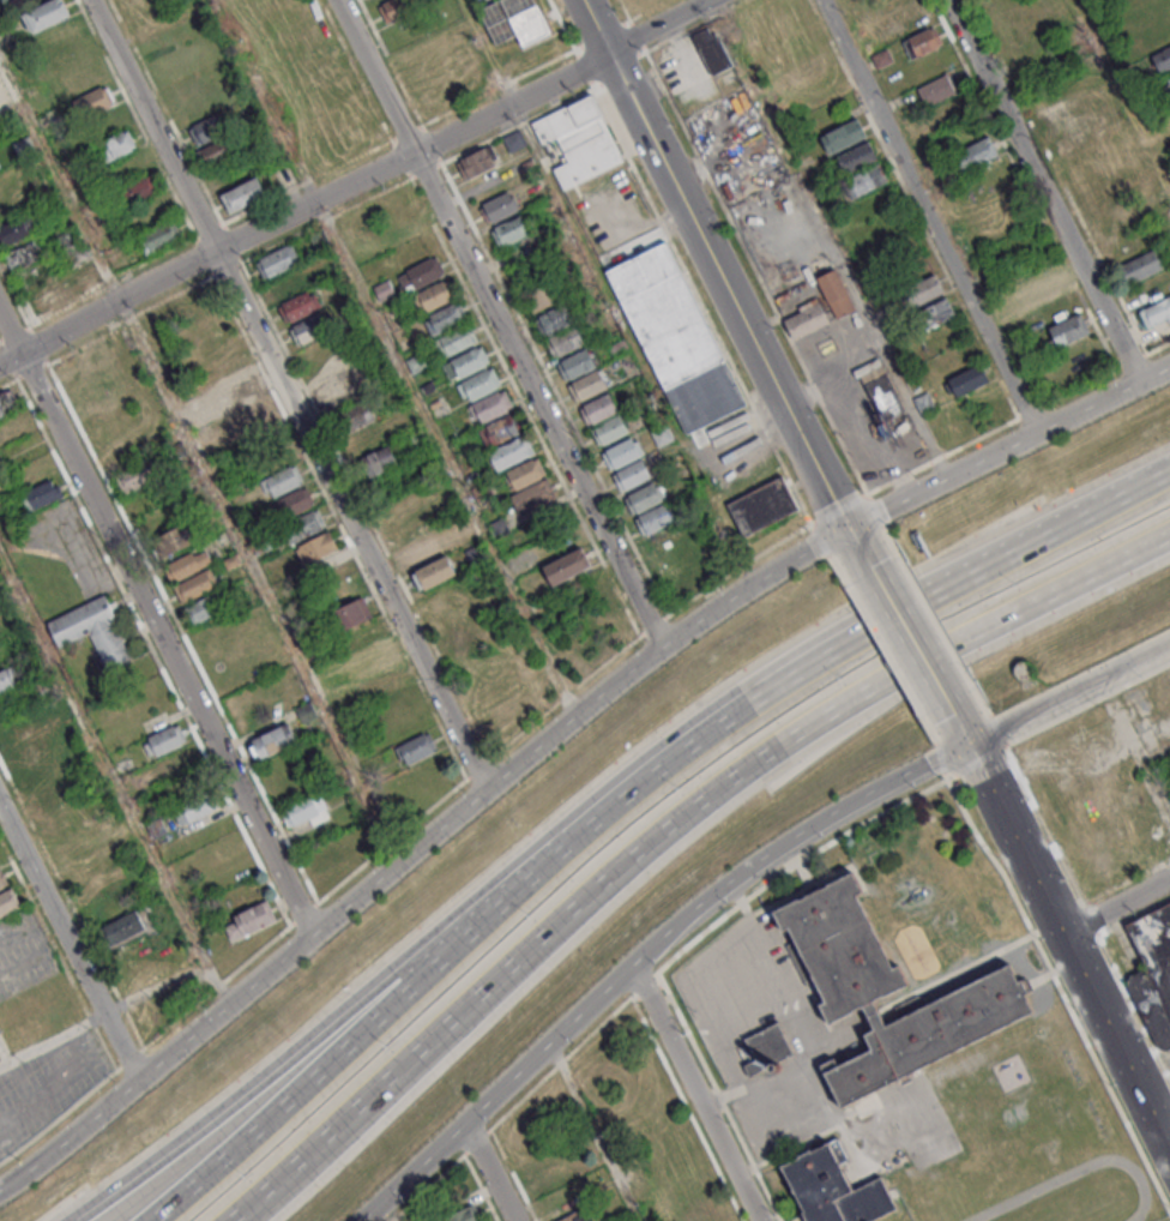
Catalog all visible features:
building: (477, 1)
building: (50, 13)
building: (913, 18)
building: (514, 20)
building: (923, 42)
building: (712, 49)
building: (1162, 59)
building: (1169, 76)
building: (936, 89)
building: (94, 101)
building: (1054, 114)
road: (429, 122)
building: (209, 130)
building: (1072, 133)
building: (843, 136)
building: (581, 140)
building: (514, 142)
building: (116, 145)
building: (976, 154)
building: (857, 157)
building: (477, 161)
building: (0, 166)
building: (867, 179)
road: (355, 182)
building: (139, 190)
road: (1044, 191)
building: (246, 196)
building: (1103, 202)
building: (501, 207)
road: (933, 215)
building: (19, 228)
building: (512, 231)
building: (158, 236)
building: (277, 260)
road: (719, 263)
building: (1140, 266)
building: (422, 276)
building: (289, 283)
building: (1047, 284)
building: (923, 290)
building: (836, 295)
building: (435, 297)
building: (542, 297)
building: (298, 306)
building: (937, 312)
building: (1156, 312)
building: (446, 319)
building: (556, 320)
road: (505, 321)
building: (806, 321)
building: (308, 329)
building: (1068, 330)
building: (675, 337)
building: (457, 342)
building: (567, 342)
road: (888, 360)
building: (471, 363)
building: (579, 365)
road: (548, 369)
building: (969, 378)
building: (328, 380)
building: (481, 385)
building: (590, 386)
building: (237, 392)
road: (292, 393)
building: (883, 397)
building: (7, 402)
building: (493, 408)
building: (602, 409)
building: (251, 414)
building: (356, 415)
building: (503, 431)
building: (611, 431)
road: (856, 431)
building: (367, 438)
road: (1011, 447)
building: (511, 453)
building: (623, 455)
road: (450, 456)
building: (379, 461)
building: (1, 467)
building: (526, 475)
building: (632, 475)
building: (133, 477)
building: (282, 481)
building: (40, 494)
building: (536, 498)
building: (646, 499)
building: (294, 503)
building: (762, 505)
building: (657, 519)
building: (304, 525)
traffic signals: (852, 528)
building: (175, 539)
road: (858, 539)
building: (315, 547)
building: (421, 552)
building: (187, 564)
building: (569, 567)
building: (434, 573)
road: (958, 582)
building: (195, 585)
building: (205, 607)
building: (354, 612)
road: (845, 620)
road: (158, 622)
building: (94, 631)
road: (913, 637)
building: (463, 642)
building: (372, 658)
building: (6, 681)
road: (1072, 692)
building: (306, 711)
road: (967, 733)
building: (164, 740)
building: (272, 740)
traffic signals: (973, 742)
building: (417, 747)
road: (1134, 748)
building: (52, 796)
building: (194, 807)
building: (304, 811)
road: (667, 829)
road: (418, 848)
building: (326, 853)
building: (2, 880)
building: (8, 902)
road: (1118, 906)
building: (248, 920)
road: (740, 926)
building: (123, 927)
road: (72, 936)
road: (1074, 945)
road: (646, 951)
road: (447, 956)
building: (1153, 972)
building: (887, 992)
road: (319, 1033)
road: (54, 1035)
building: (767, 1048)
road: (695, 1091)
road: (1165, 1127)
road: (598, 1130)
road: (495, 1171)
building: (549, 1177)
building: (834, 1187)
road: (393, 1209)
building: (702, 1210)
building: (465, 1215)
building: (574, 1216)
building: (724, 1220)

